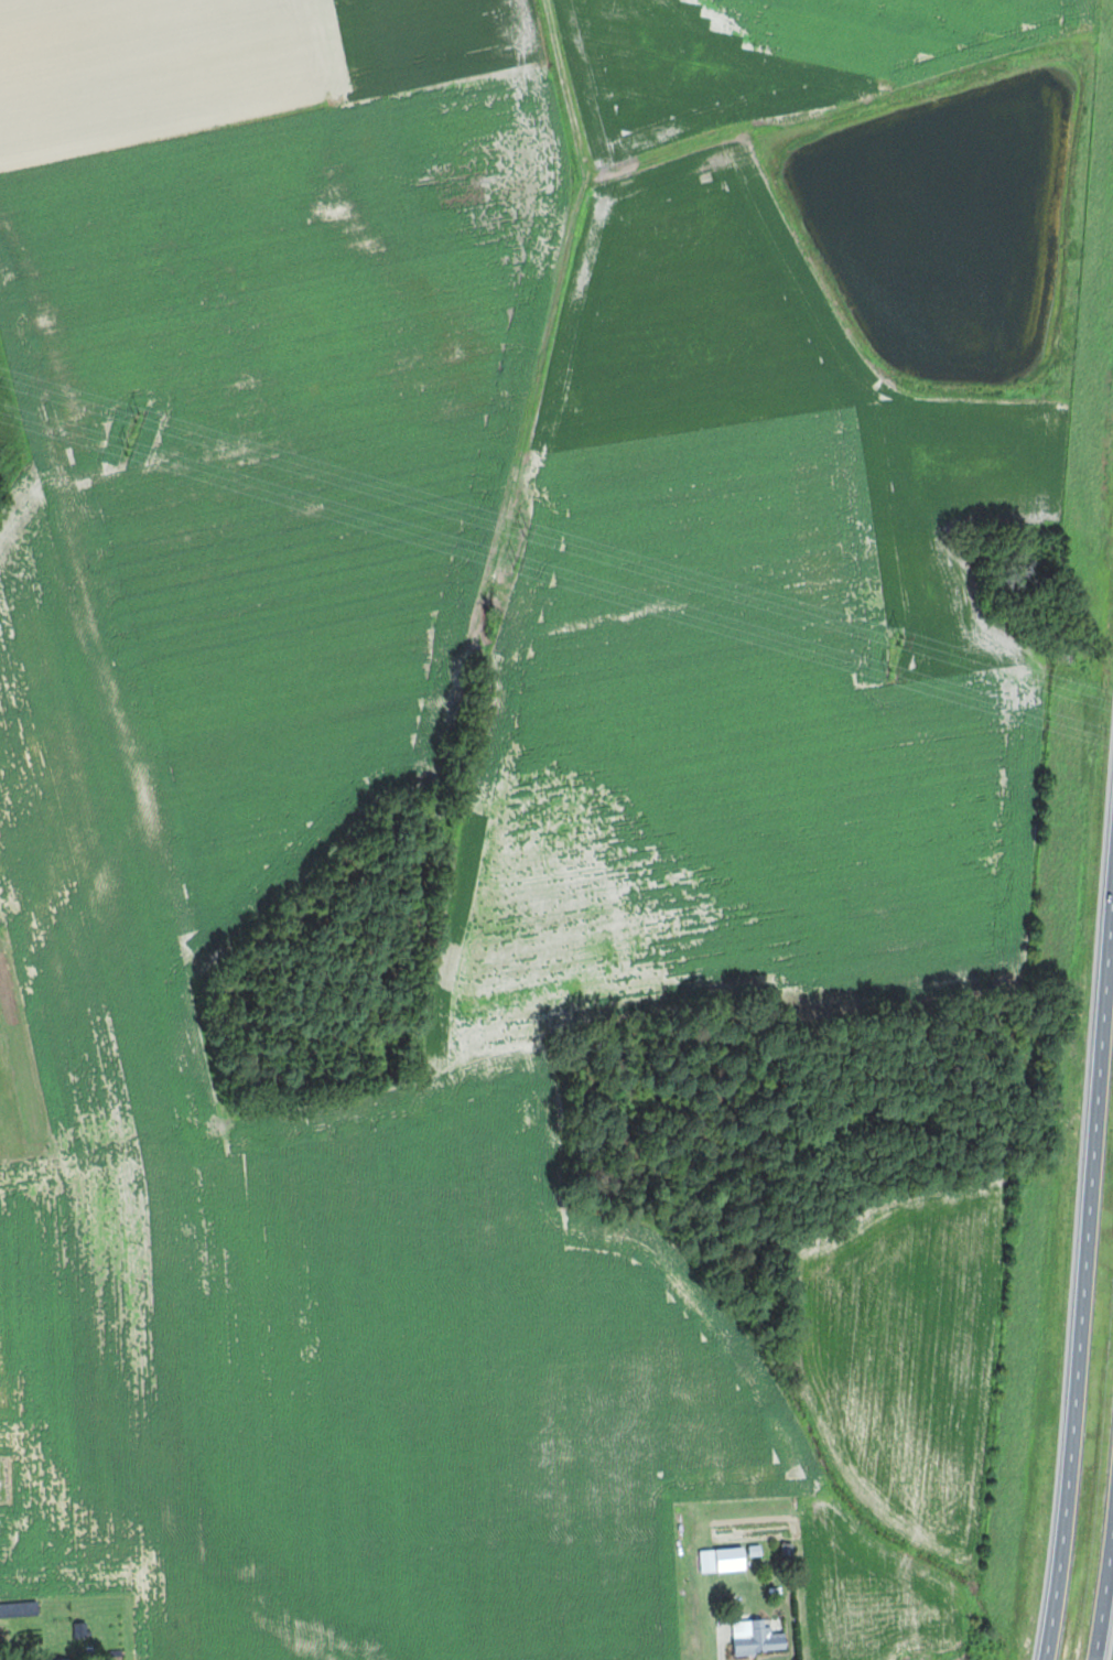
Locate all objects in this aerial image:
power tower: (139, 418)
power tower: (130, 450)
power tower: (527, 529)
power tower: (517, 563)
power tower: (901, 639)
power tower: (890, 671)
road: (1084, 1284)
building: (730, 1560)
building: (760, 1638)
road: (1111, 1638)

